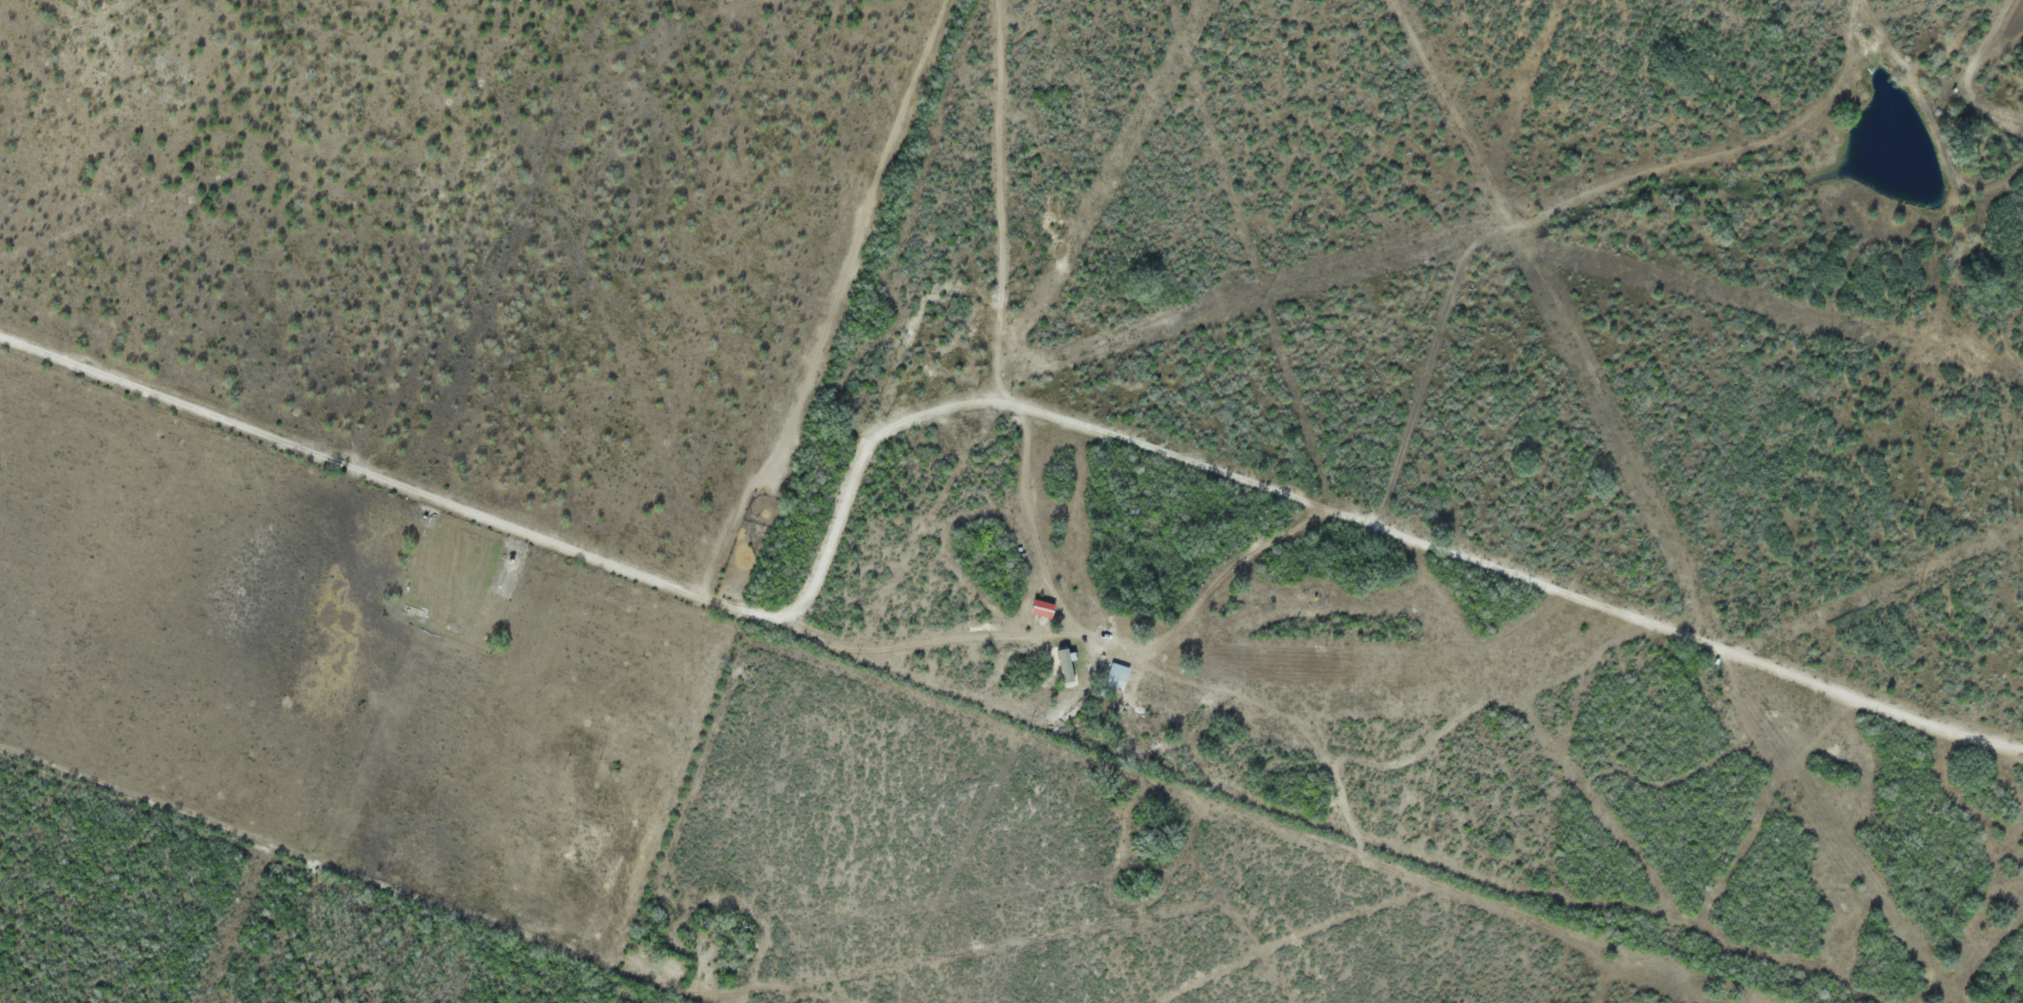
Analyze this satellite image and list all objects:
building: (1116, 679)

